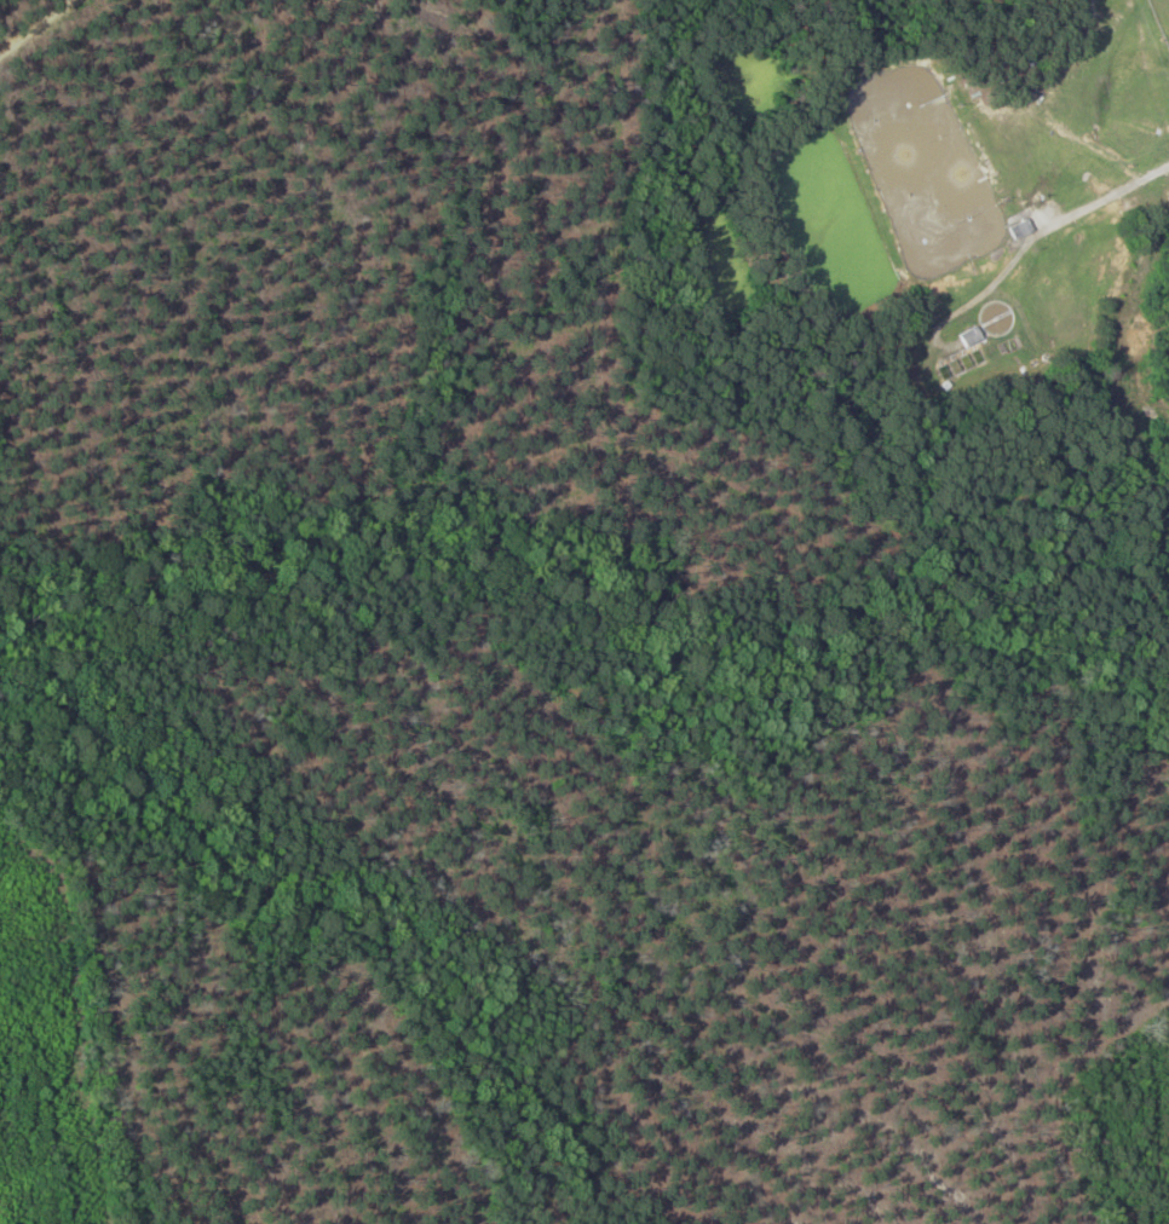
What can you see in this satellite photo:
building: (969, 337)

